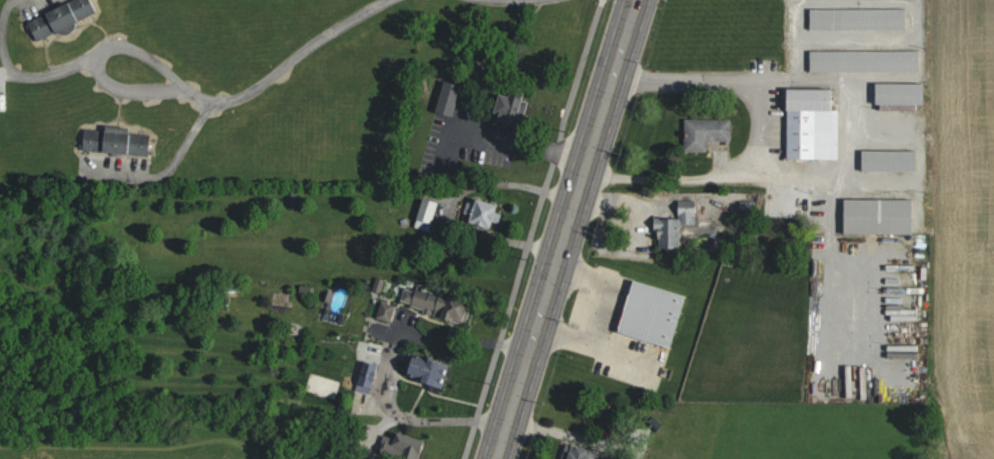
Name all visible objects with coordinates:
building: (60, 16)
building: (857, 18)
road: (793, 54)
road: (94, 58)
building: (863, 60)
road: (286, 65)
road: (16, 70)
building: (898, 93)
building: (447, 97)
building: (506, 108)
building: (810, 124)
building: (704, 132)
building: (115, 140)
road: (761, 141)
road: (850, 141)
building: (888, 160)
road: (164, 170)
building: (483, 212)
building: (425, 213)
building: (877, 216)
building: (672, 228)
road: (532, 229)
road: (568, 229)
road: (608, 287)
building: (434, 303)
building: (385, 311)
building: (651, 314)
road: (595, 344)
road: (390, 363)
building: (425, 370)
building: (365, 377)
building: (406, 447)
building: (578, 453)

